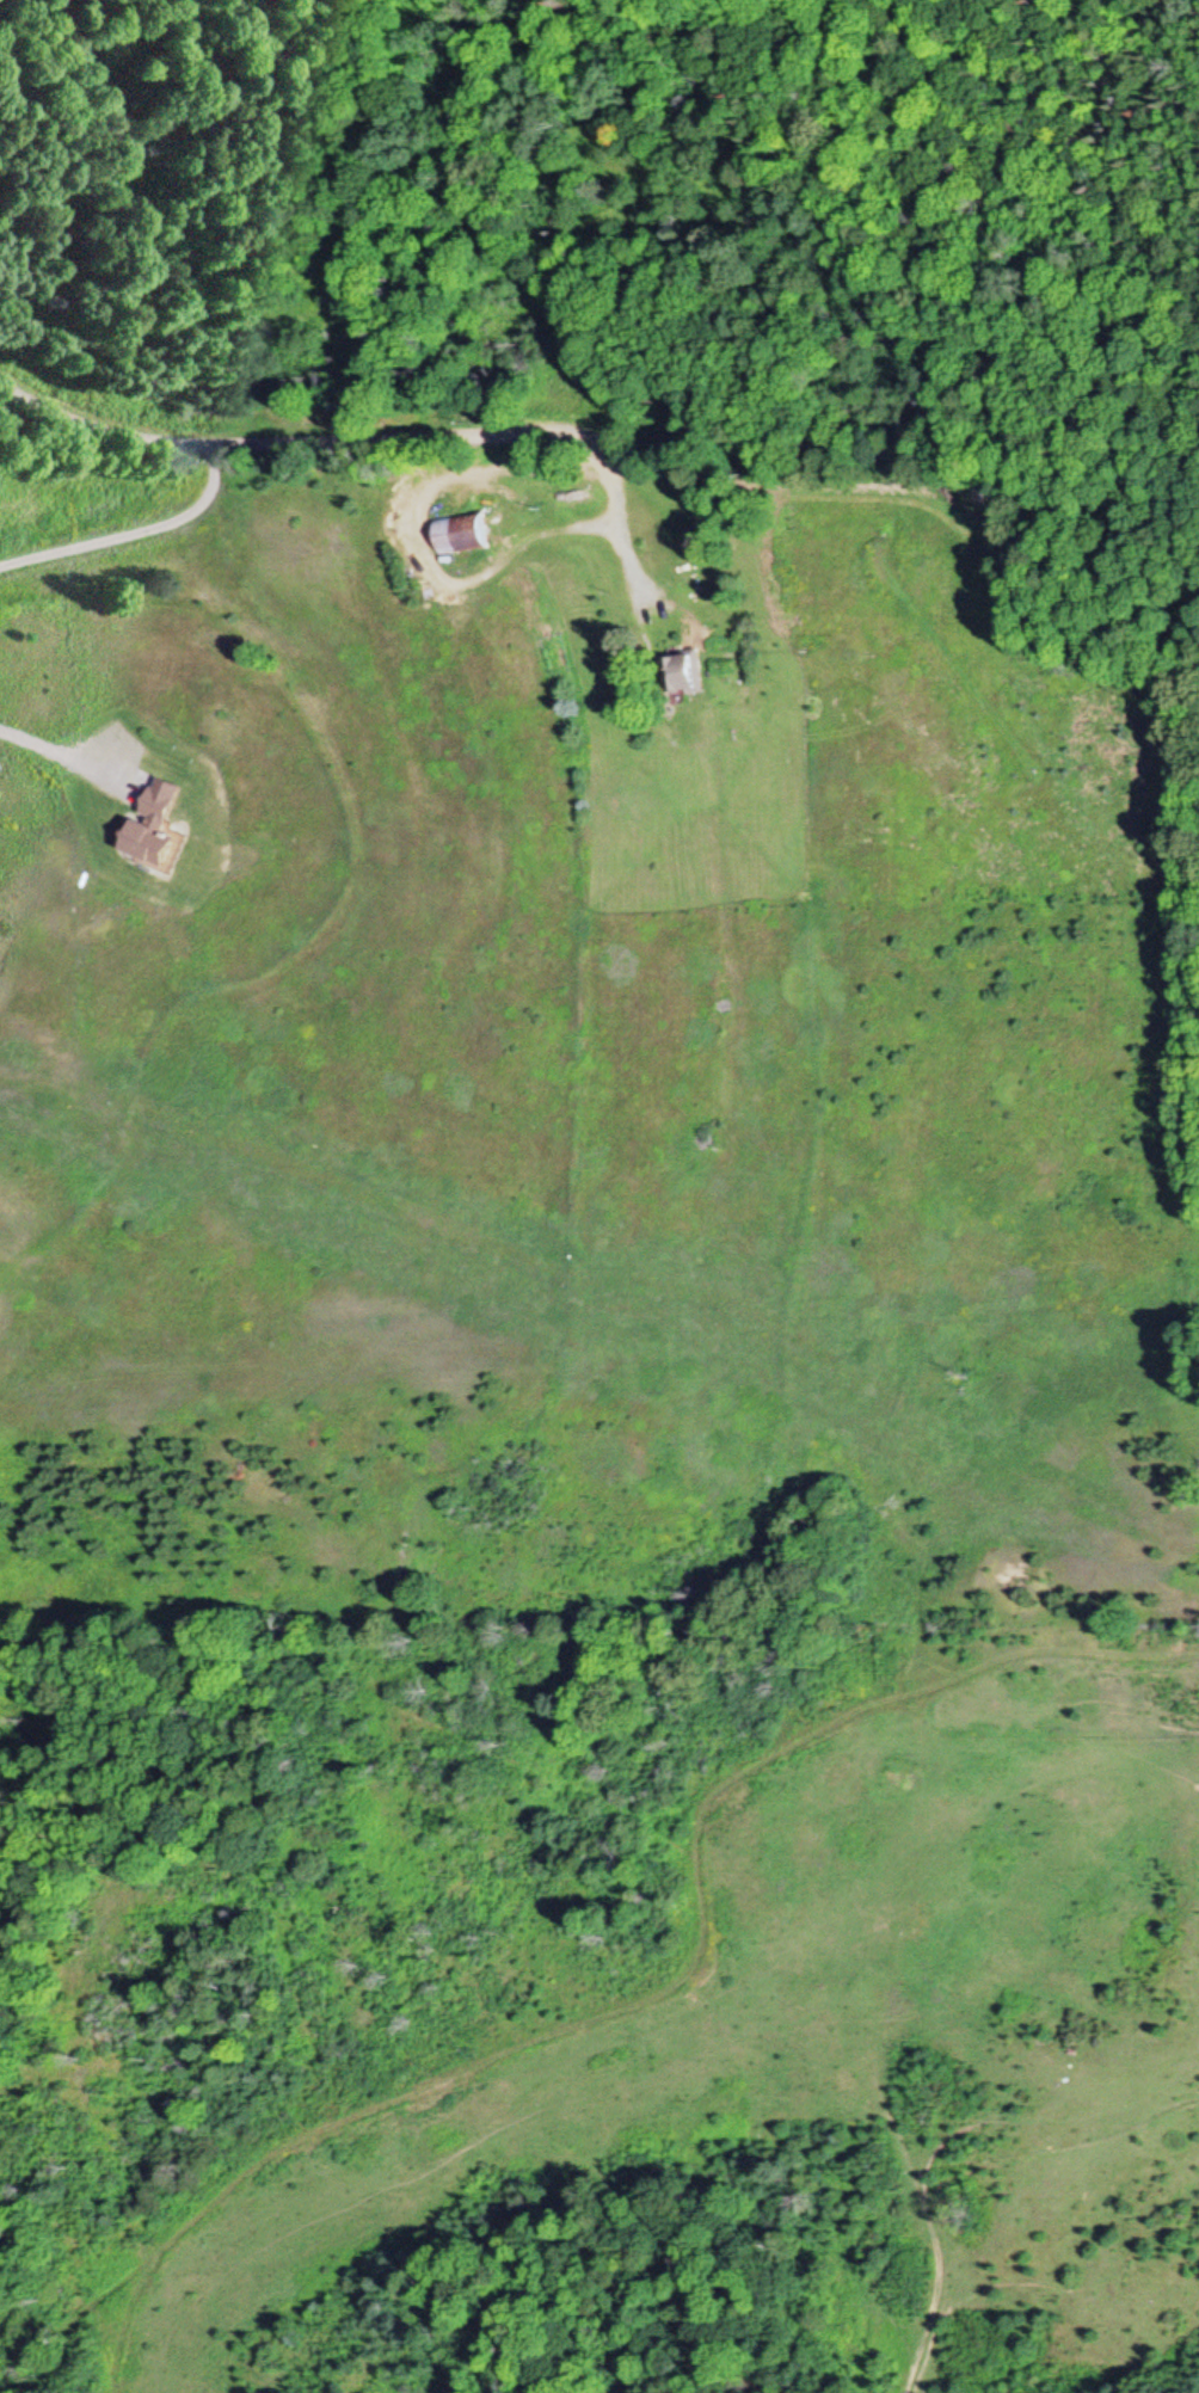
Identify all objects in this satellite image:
road: (459, 459)
building: (457, 536)
building: (680, 673)

